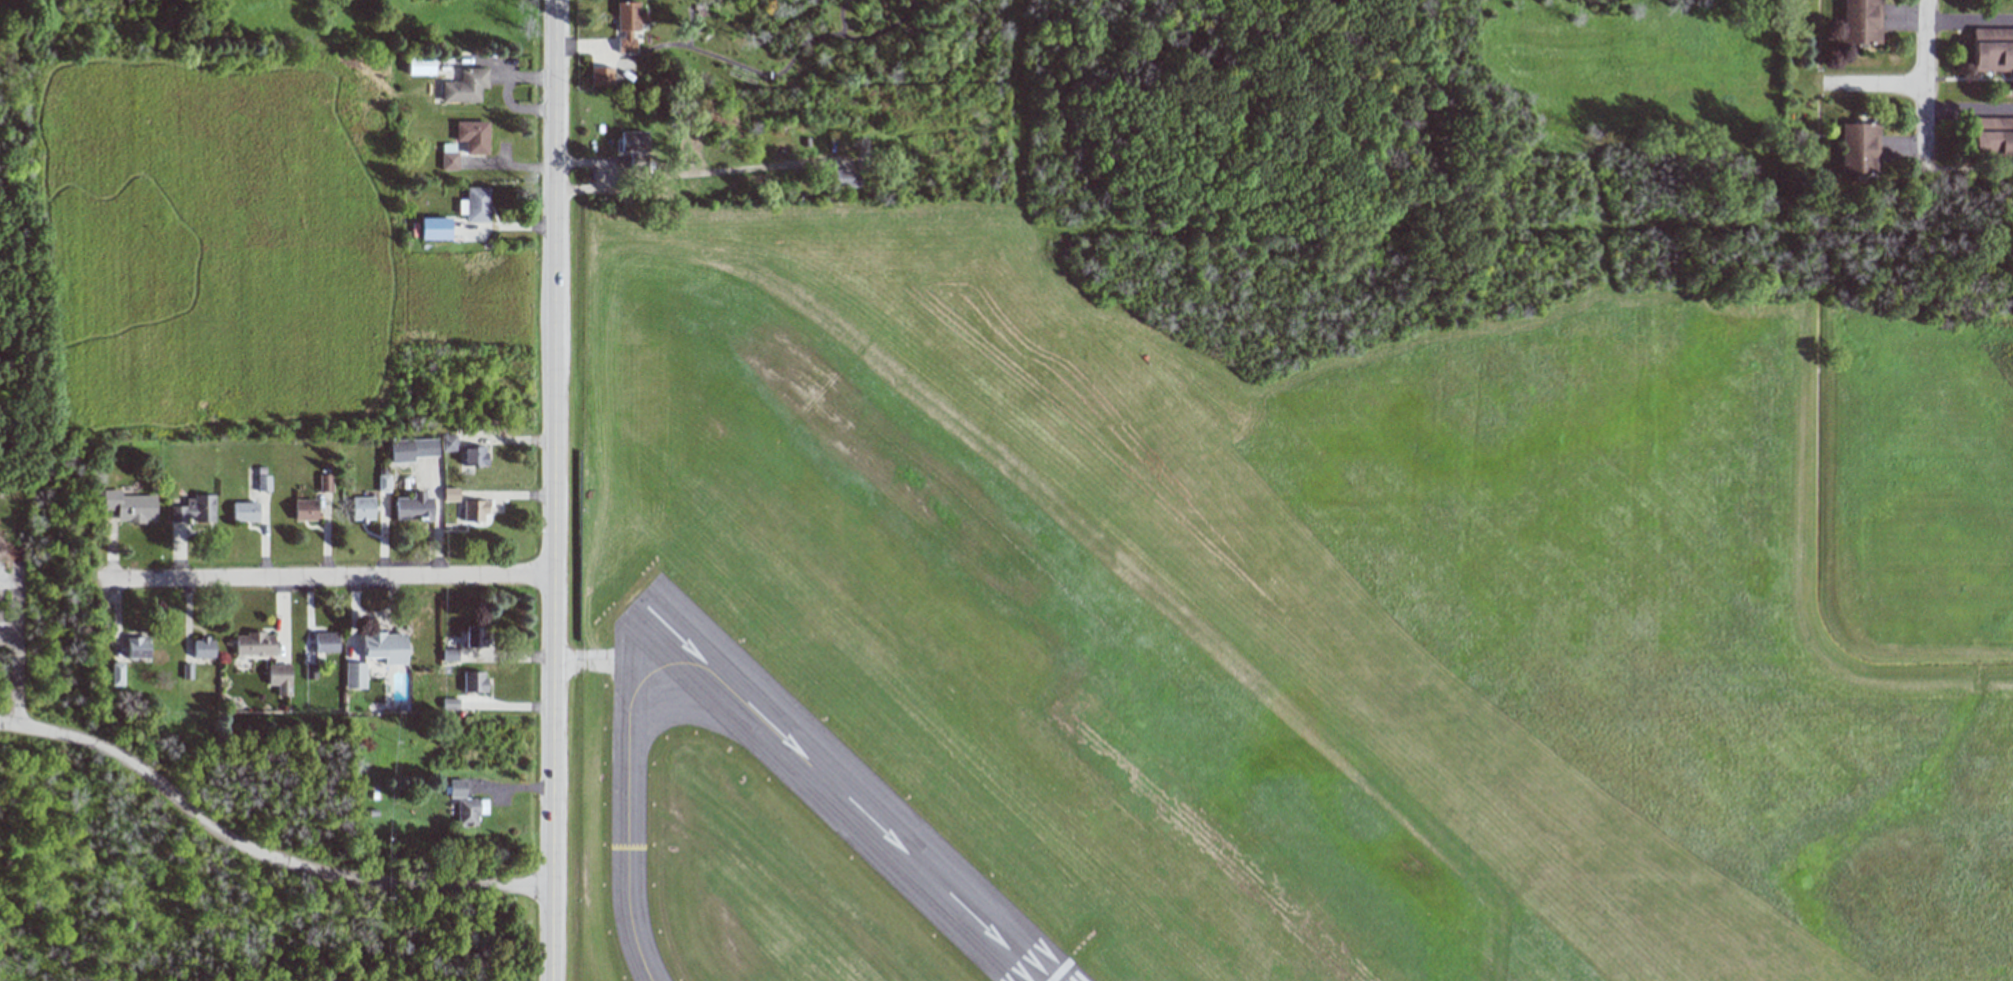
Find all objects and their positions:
road: (1969, 15)
building: (1861, 21)
building: (629, 25)
building: (1993, 49)
building: (420, 65)
road: (500, 66)
building: (601, 76)
building: (465, 86)
road: (1872, 87)
road: (1925, 91)
road: (514, 107)
building: (473, 136)
building: (1991, 136)
building: (633, 141)
building: (1858, 148)
building: (449, 157)
road: (693, 171)
building: (845, 178)
building: (475, 205)
building: (434, 228)
road: (6, 313)
building: (447, 443)
building: (411, 449)
building: (473, 455)
building: (325, 482)
building: (383, 482)
building: (263, 483)
road: (550, 490)
building: (449, 494)
building: (129, 506)
building: (413, 507)
building: (194, 509)
building: (362, 509)
building: (305, 510)
building: (473, 510)
building: (244, 511)
airport: (1307, 533)
road: (322, 579)
road: (13, 599)
road: (6, 630)
building: (474, 636)
building: (325, 642)
building: (254, 644)
building: (136, 647)
building: (385, 647)
building: (203, 648)
building: (449, 654)
building: (310, 671)
building: (116, 674)
building: (355, 675)
road: (13, 677)
building: (279, 678)
building: (474, 681)
building: (449, 703)
building: (456, 788)
airport runway: (837, 792)
airport taxiway: (631, 808)
building: (469, 810)
road: (258, 852)
road: (49, 901)

